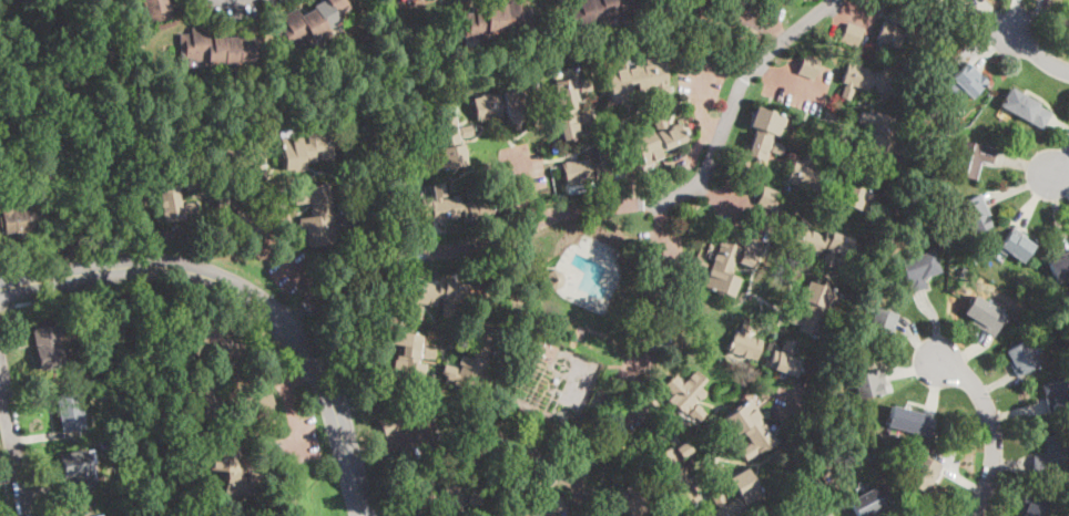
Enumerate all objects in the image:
road: (238, 0)
building: (406, 0)
building: (410, 0)
building: (928, 1)
building: (156, 8)
building: (604, 12)
building: (499, 21)
building: (310, 22)
building: (905, 31)
building: (852, 34)
building: (749, 37)
building: (220, 49)
road: (1037, 53)
building: (877, 54)
building: (810, 66)
road: (788, 78)
building: (639, 80)
building: (969, 80)
building: (871, 81)
road: (699, 99)
building: (507, 104)
building: (934, 105)
building: (571, 106)
building: (1026, 107)
building: (831, 116)
building: (617, 117)
building: (765, 134)
building: (876, 134)
building: (658, 140)
building: (448, 144)
building: (306, 149)
building: (418, 154)
building: (238, 158)
building: (973, 158)
road: (1060, 166)
building: (593, 168)
building: (804, 173)
building: (34, 186)
road: (526, 187)
building: (176, 193)
building: (768, 198)
building: (855, 198)
building: (460, 205)
road: (734, 207)
road: (598, 208)
building: (807, 209)
building: (973, 213)
building: (318, 215)
building: (19, 219)
building: (237, 220)
building: (890, 230)
building: (821, 245)
building: (1016, 246)
building: (746, 259)
building: (702, 264)
road: (28, 265)
building: (1060, 267)
building: (724, 269)
building: (918, 269)
building: (554, 279)
building: (439, 292)
road: (247, 297)
building: (1050, 301)
road: (23, 305)
building: (1027, 308)
road: (1, 309)
building: (814, 309)
building: (414, 312)
building: (670, 316)
building: (985, 316)
building: (882, 324)
building: (51, 340)
building: (214, 342)
building: (745, 342)
building: (451, 344)
building: (472, 357)
building: (1019, 358)
building: (406, 359)
building: (785, 360)
road: (633, 361)
building: (868, 382)
building: (688, 394)
building: (1056, 394)
road: (287, 401)
building: (235, 405)
building: (643, 407)
building: (521, 411)
building: (70, 412)
building: (913, 421)
building: (864, 423)
building: (390, 425)
building: (843, 425)
building: (751, 429)
road: (994, 430)
building: (878, 437)
road: (13, 443)
building: (501, 448)
building: (1051, 457)
building: (817, 461)
building: (233, 468)
building: (79, 469)
building: (923, 471)
building: (679, 473)
road: (6, 483)
building: (813, 487)
building: (747, 493)
building: (459, 498)
building: (631, 500)
building: (872, 502)
building: (541, 504)
building: (1034, 506)
building: (676, 514)
building: (100, 515)
building: (827, 515)

